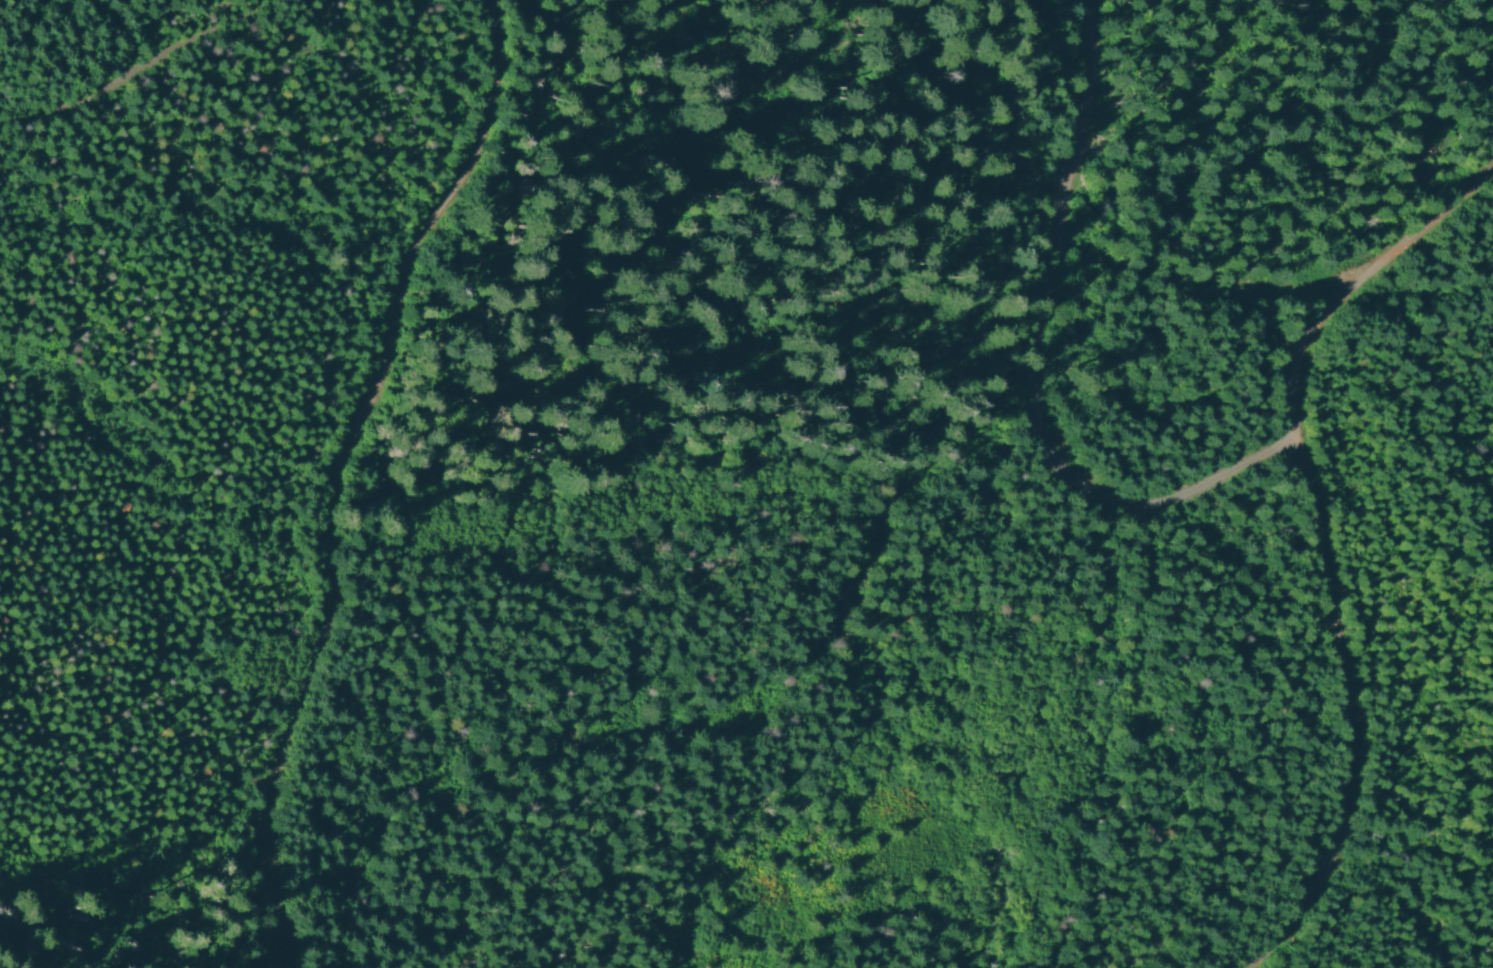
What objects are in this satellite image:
road: (136, 72)
road: (324, 472)
road: (1111, 501)
road: (1349, 714)

